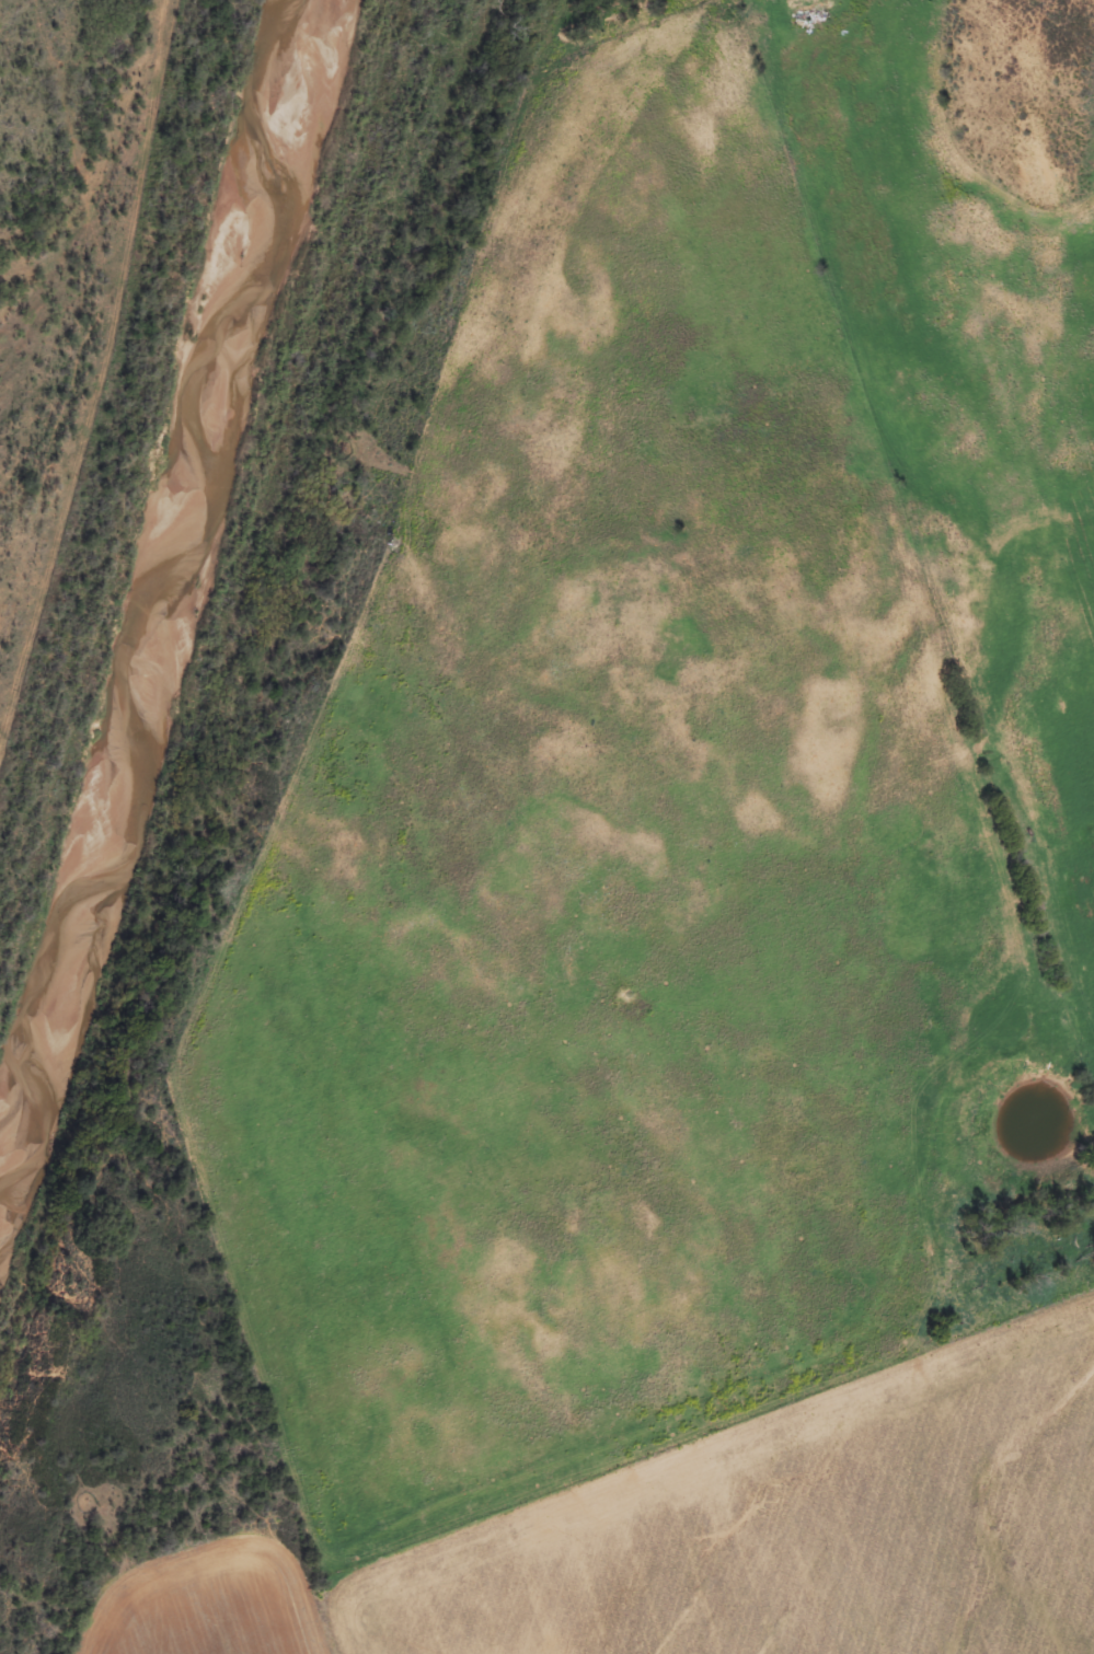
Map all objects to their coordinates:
river: (161, 618)

